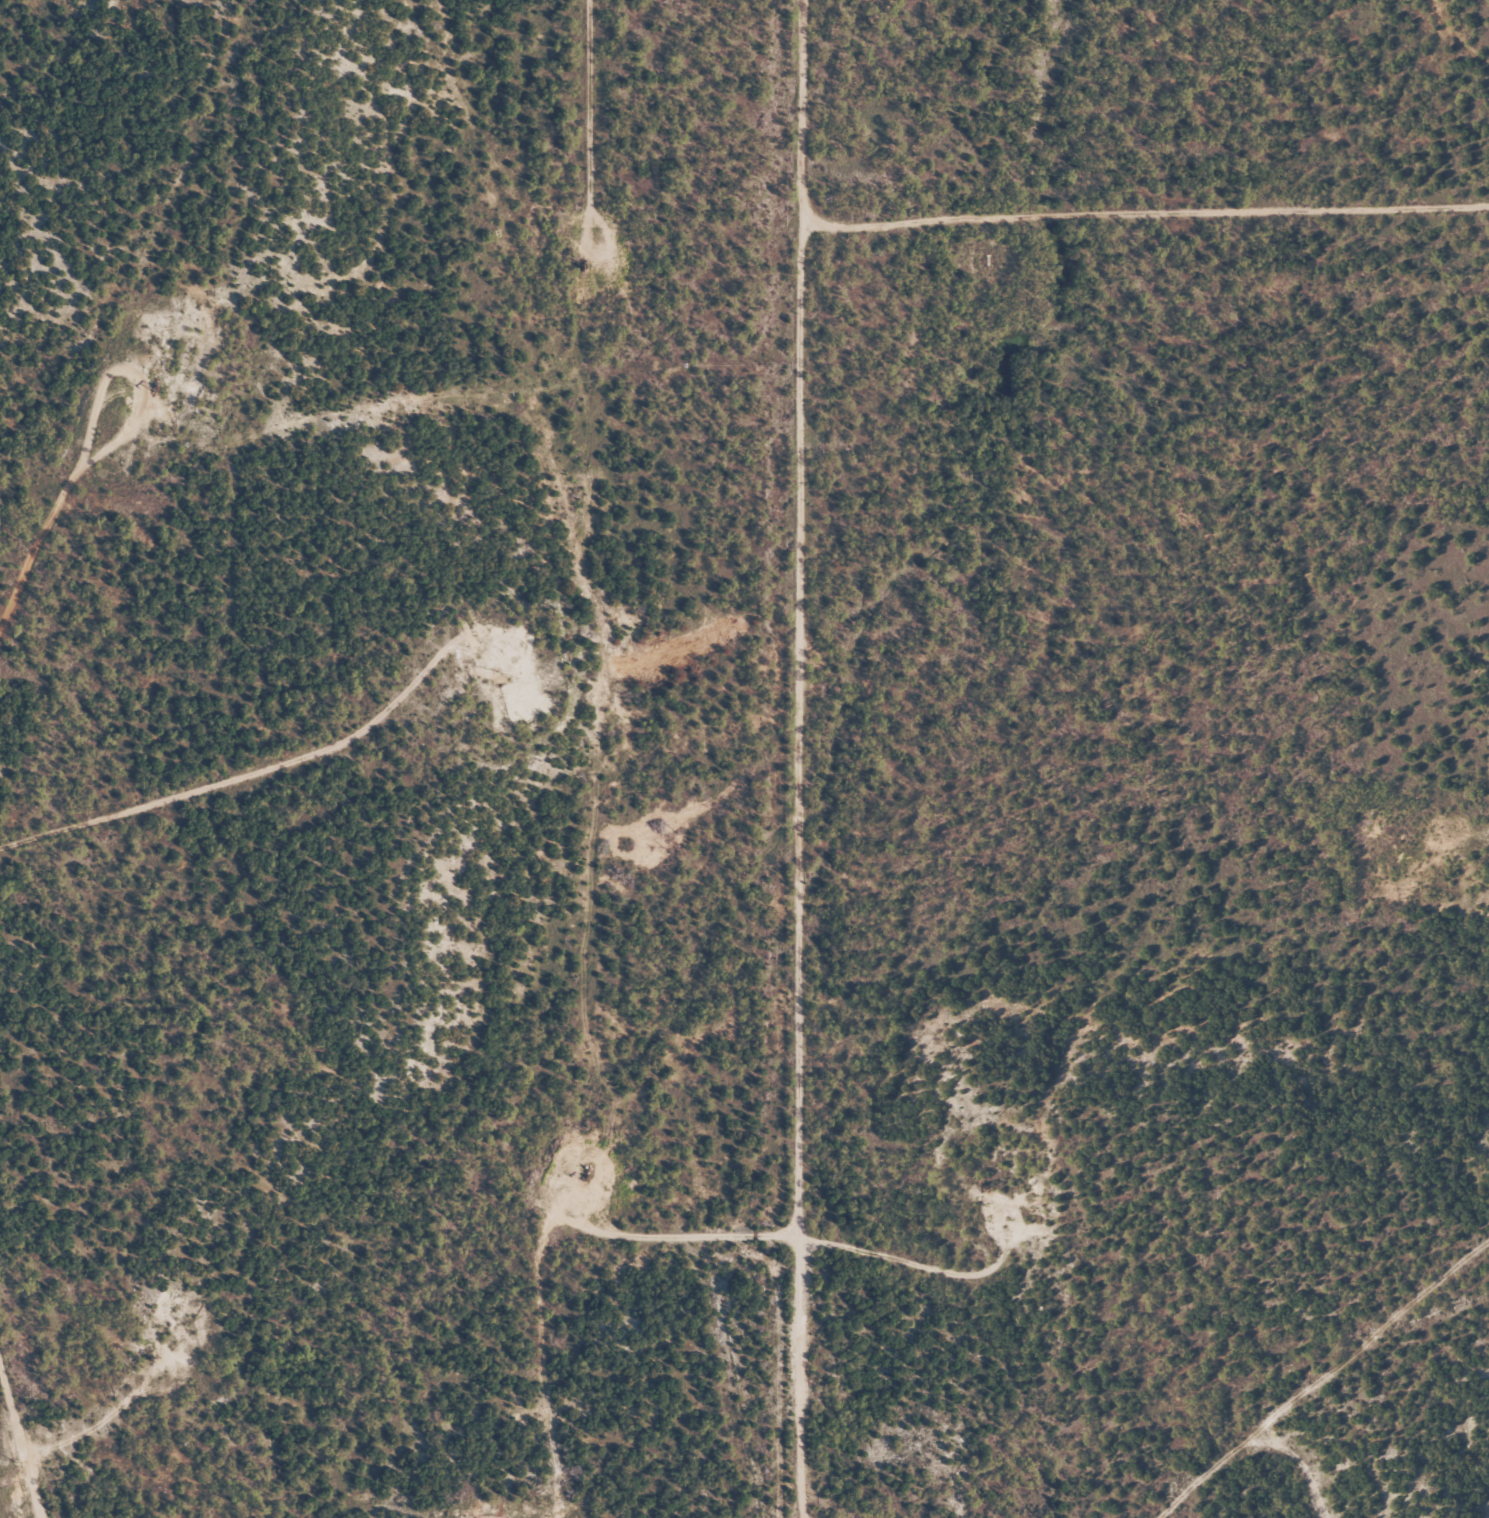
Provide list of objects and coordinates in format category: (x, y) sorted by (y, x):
petroleum well: (154, 385)
petroleum well: (500, 677)
petroleum well: (1385, 846)
petroleum well: (148, 1356)

